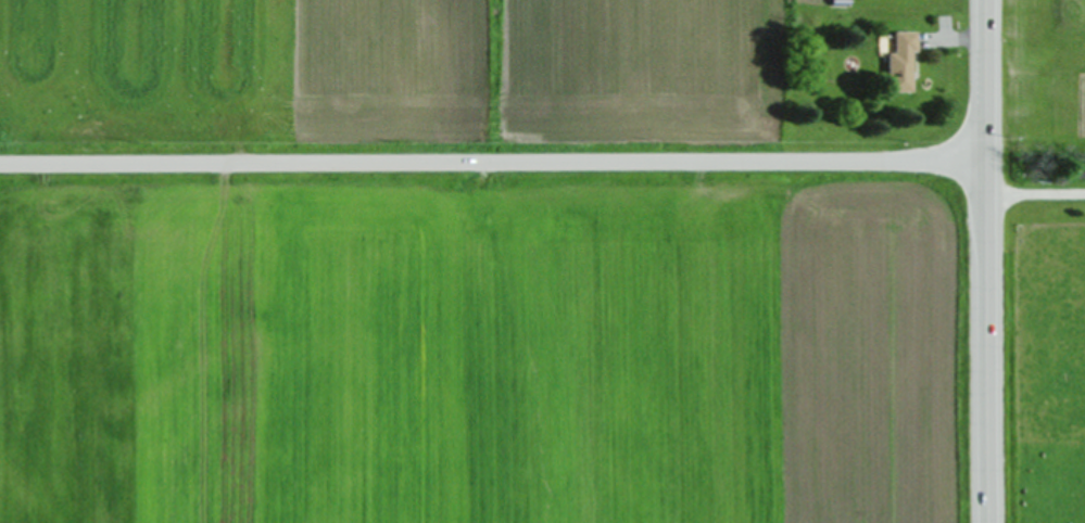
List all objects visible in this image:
building: (898, 62)
crop: (1044, 82)
road: (494, 161)
road: (988, 260)

